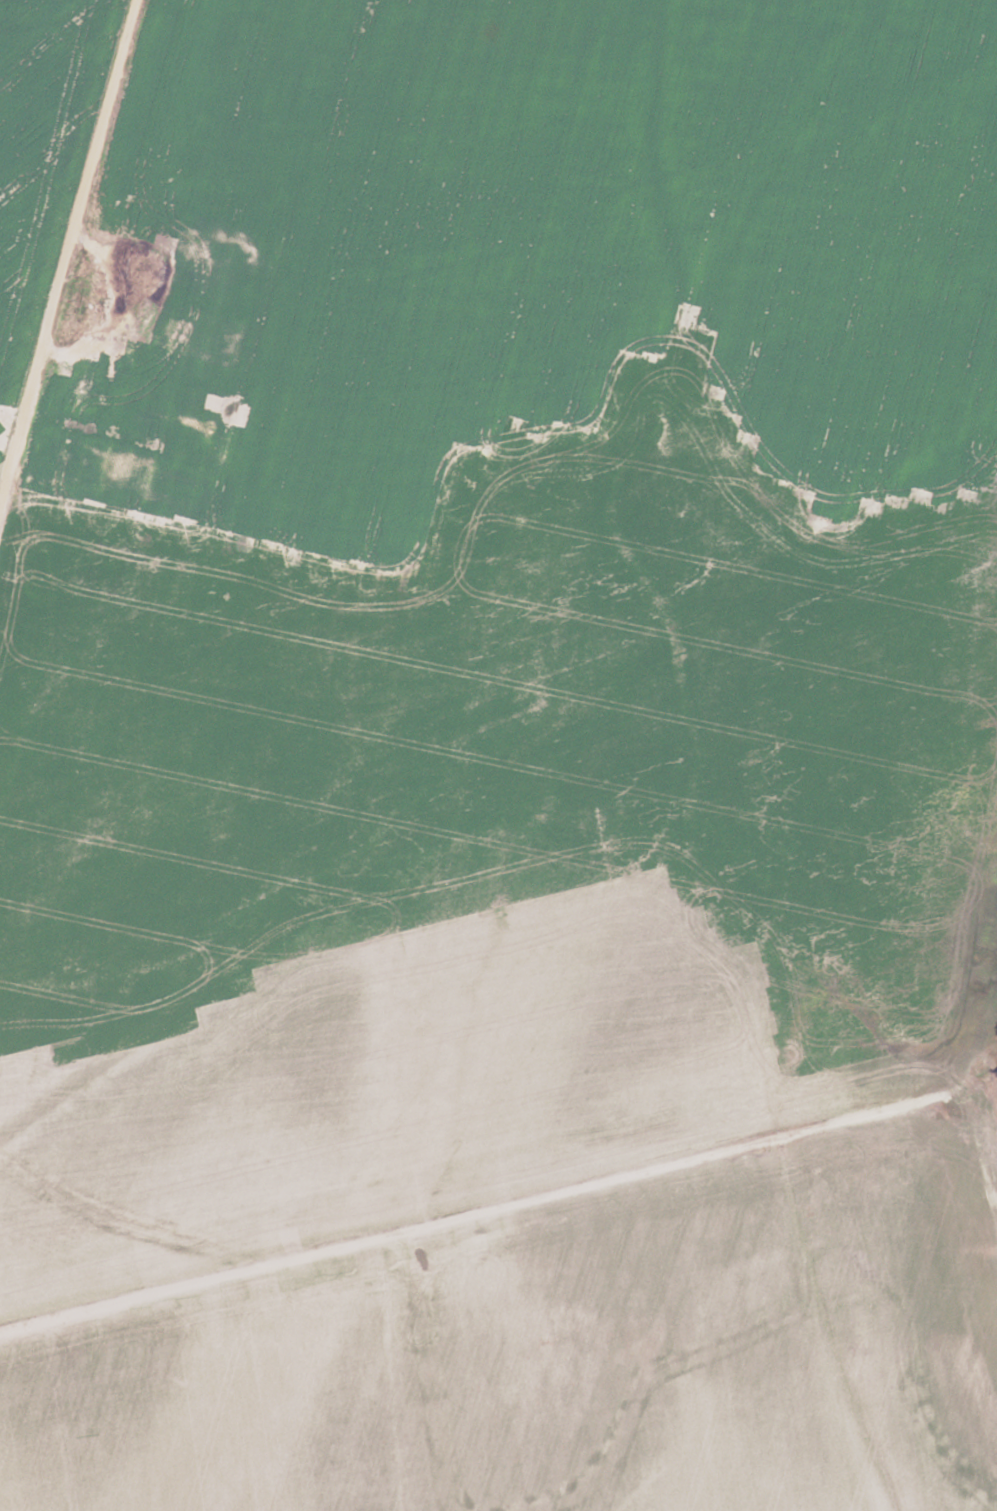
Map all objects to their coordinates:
road: (79, 285)
road: (498, 1181)

